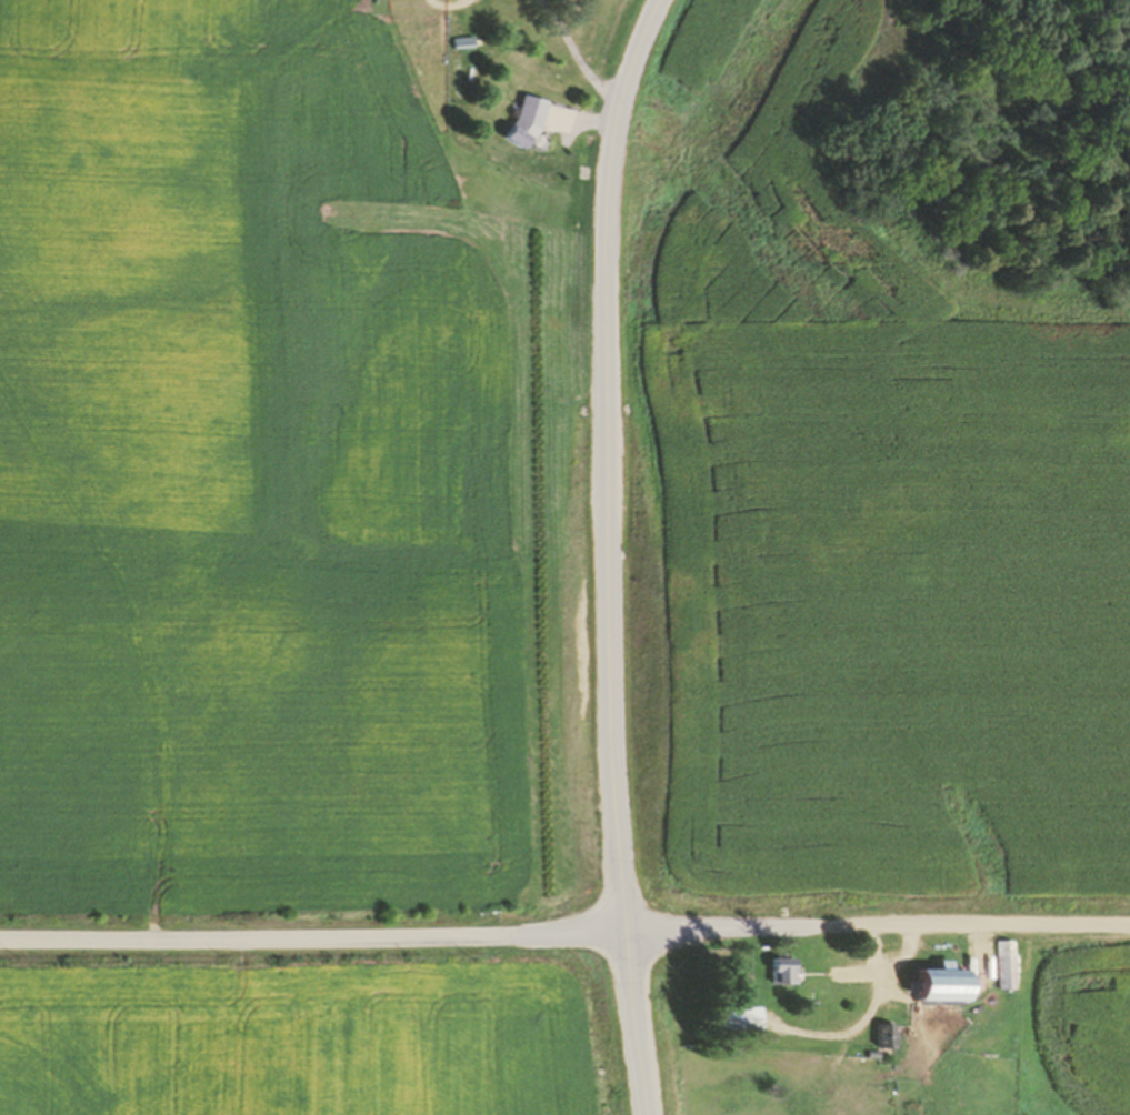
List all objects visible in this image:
building: (456, 43)
road: (570, 53)
road: (574, 120)
building: (518, 123)
road: (610, 553)
road: (876, 927)
road: (311, 938)
building: (998, 966)
road: (882, 968)
building: (778, 972)
building: (930, 987)
building: (727, 1018)
road: (859, 1028)
building: (878, 1035)

